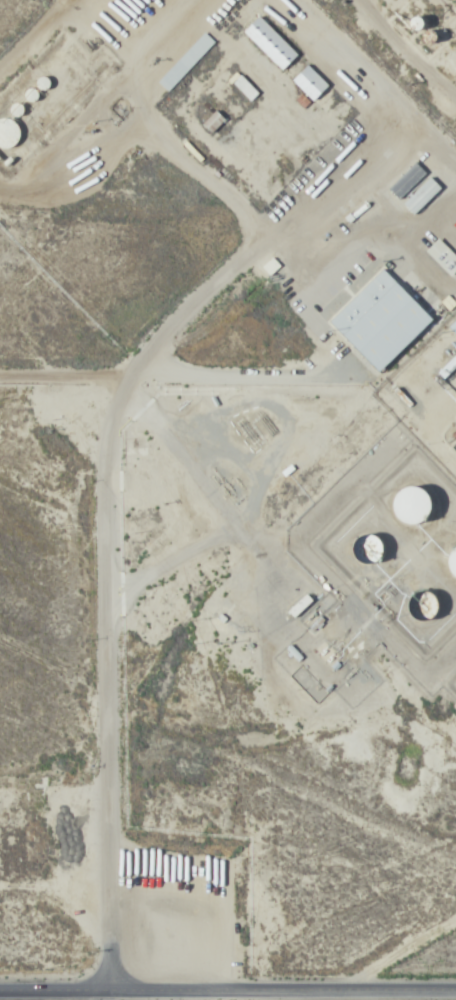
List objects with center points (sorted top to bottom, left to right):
road: (382, 9)
building: (431, 36)
building: (270, 43)
building: (185, 62)
road: (397, 66)
building: (310, 83)
building: (244, 87)
building: (8, 132)
building: (407, 180)
building: (443, 257)
building: (382, 320)
building: (453, 326)
building: (448, 367)
road: (228, 390)
road: (106, 488)
building: (413, 505)
building: (372, 548)
building: (452, 563)
building: (430, 603)
building: (300, 605)
road: (228, 978)

